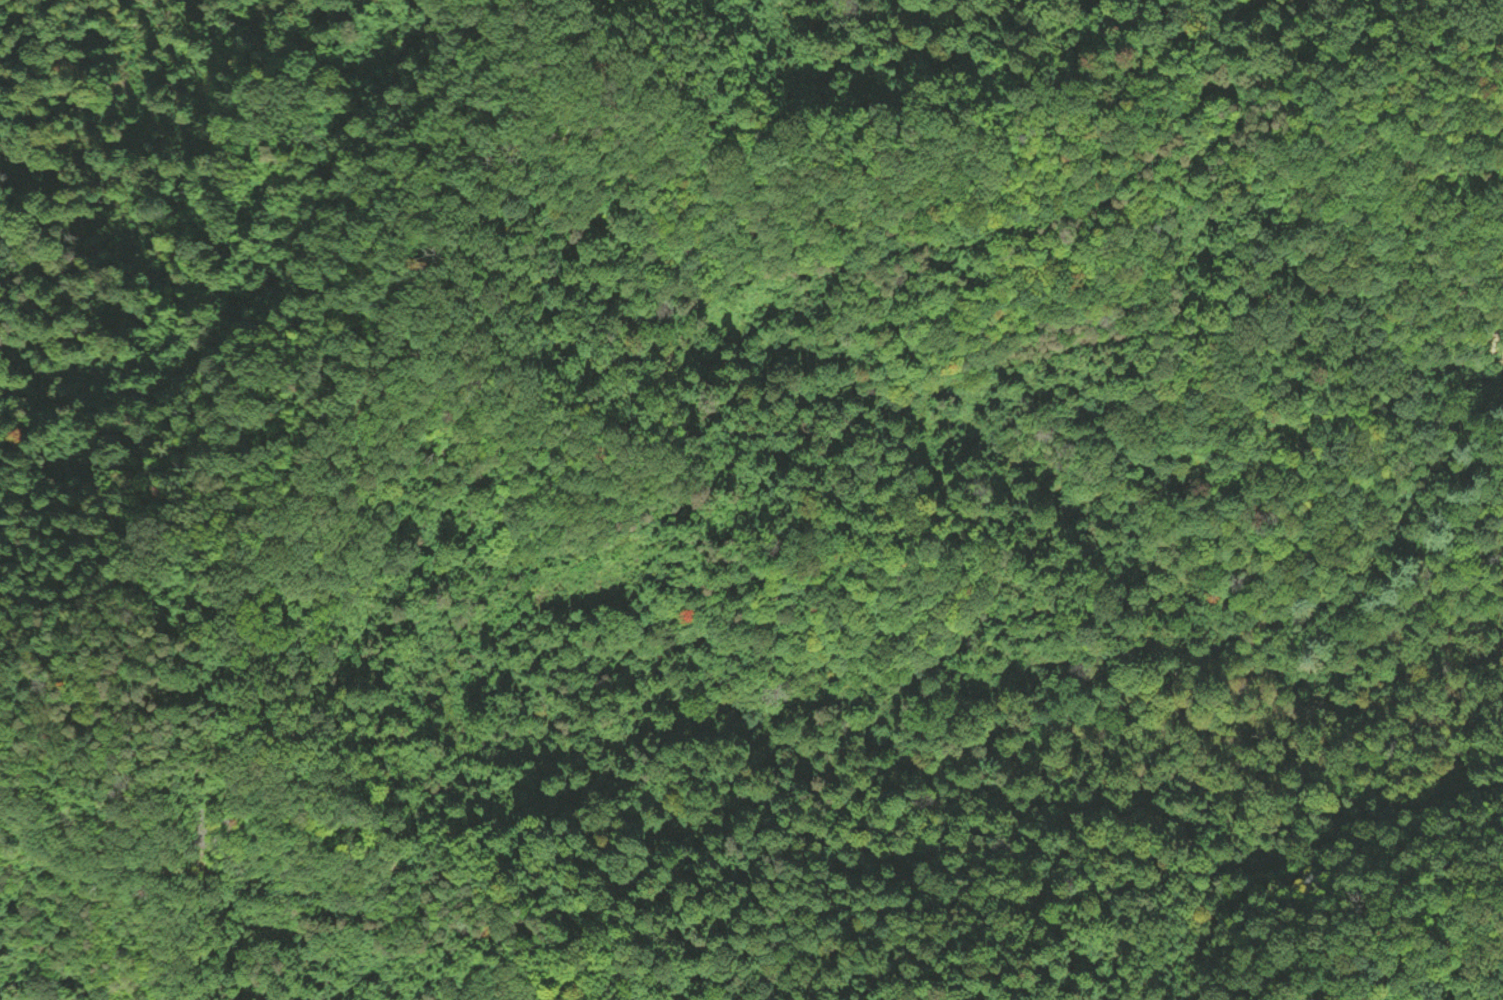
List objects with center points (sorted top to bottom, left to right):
road: (1305, 879)

